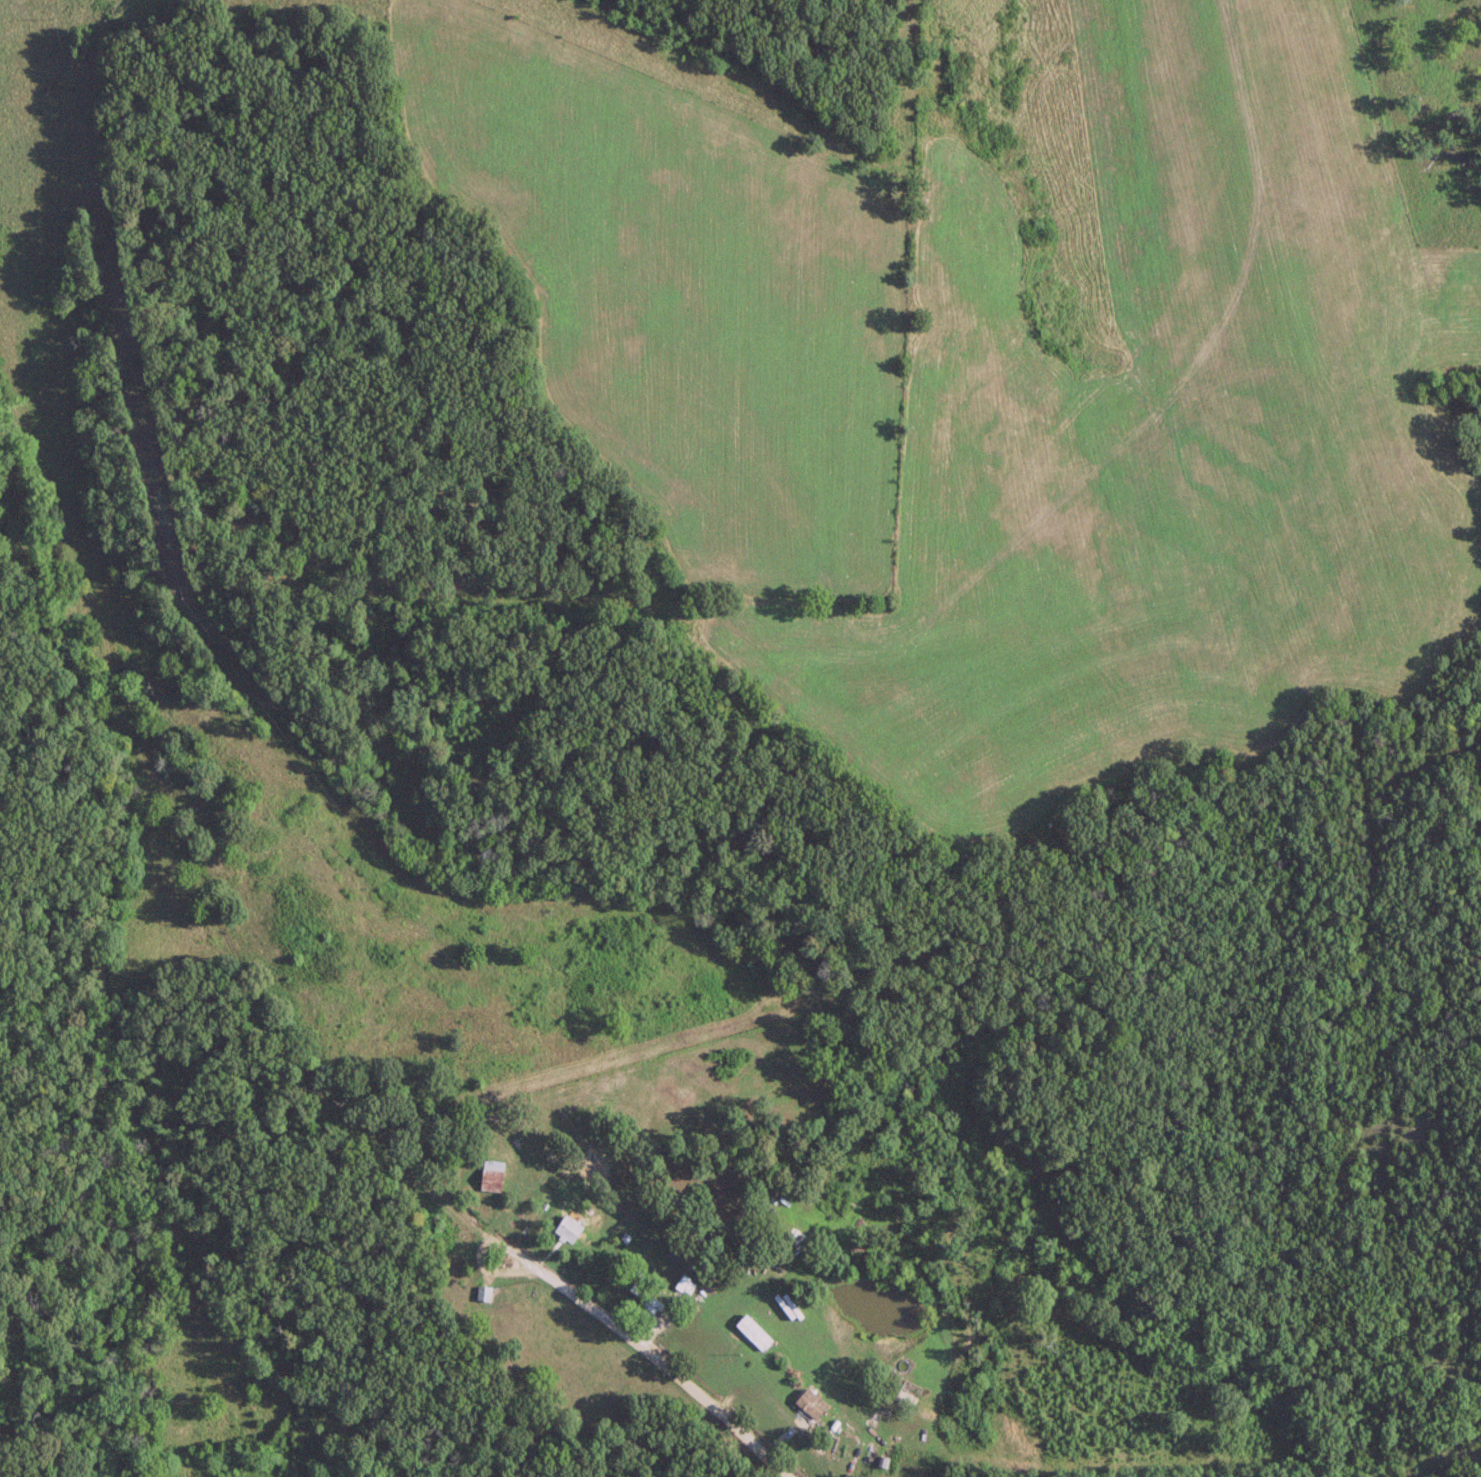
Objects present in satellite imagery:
building: (491, 1176)
road: (436, 1186)
building: (569, 1230)
building: (684, 1285)
building: (482, 1294)
building: (647, 1301)

